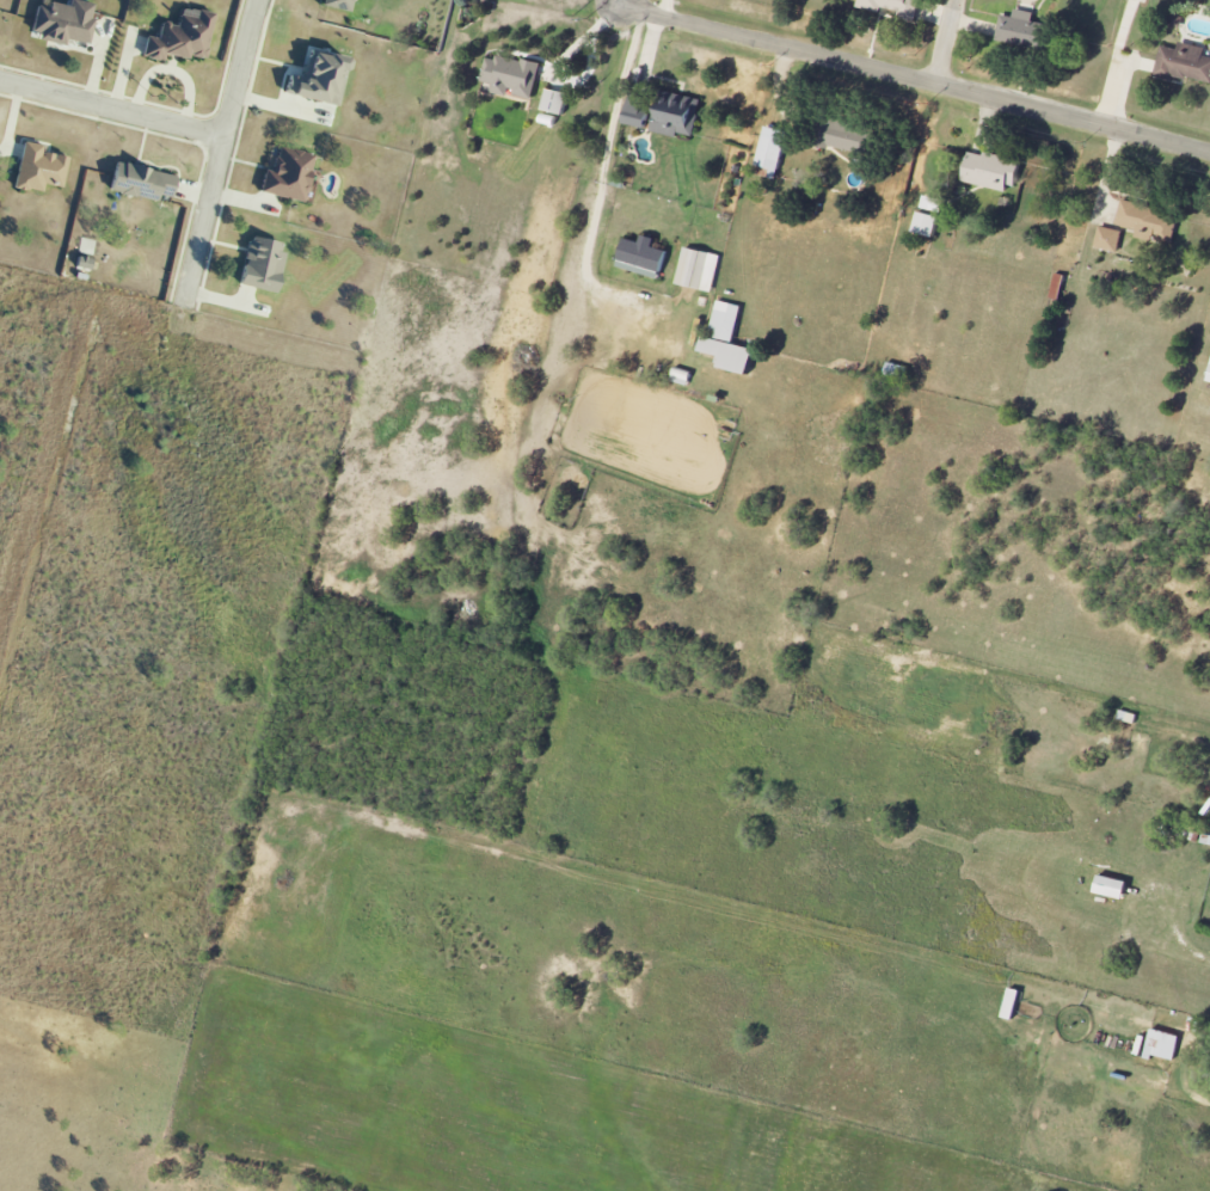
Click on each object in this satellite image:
building: (334, 4)
road: (622, 4)
building: (892, 7)
road: (665, 8)
building: (62, 22)
building: (1021, 29)
building: (179, 37)
road: (947, 43)
building: (1185, 63)
road: (559, 65)
building: (510, 76)
building: (319, 79)
road: (916, 80)
road: (620, 97)
building: (555, 102)
road: (111, 110)
building: (637, 112)
building: (677, 116)
building: (846, 136)
road: (219, 149)
building: (770, 153)
building: (38, 168)
building: (991, 171)
building: (288, 174)
building: (140, 183)
building: (932, 204)
building: (1148, 221)
building: (927, 225)
building: (1108, 239)
building: (643, 257)
building: (260, 265)
road: (585, 265)
building: (699, 270)
building: (727, 340)
building: (681, 377)
building: (1209, 381)
building: (1112, 888)
building: (1012, 1005)
building: (1162, 1046)

